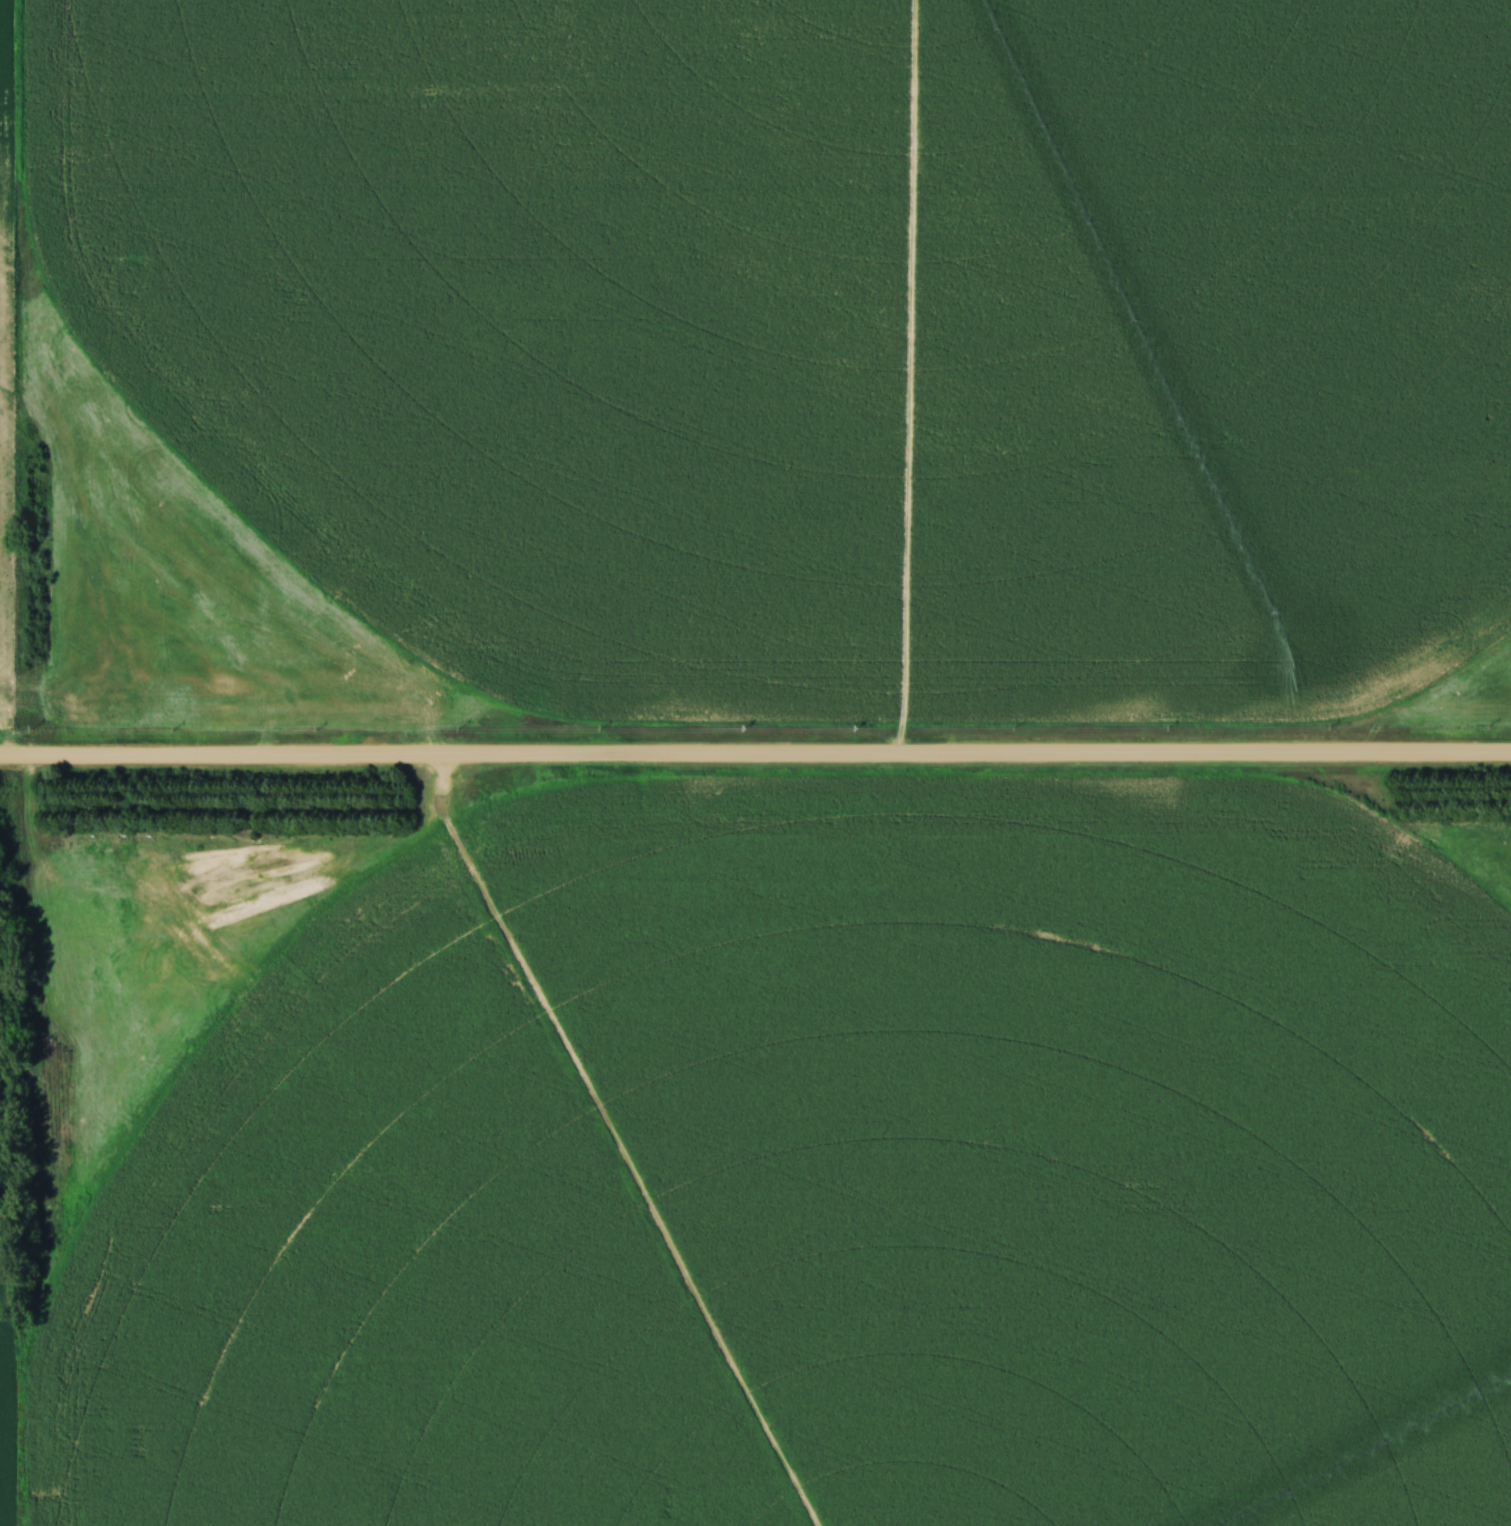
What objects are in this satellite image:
road: (755, 759)

